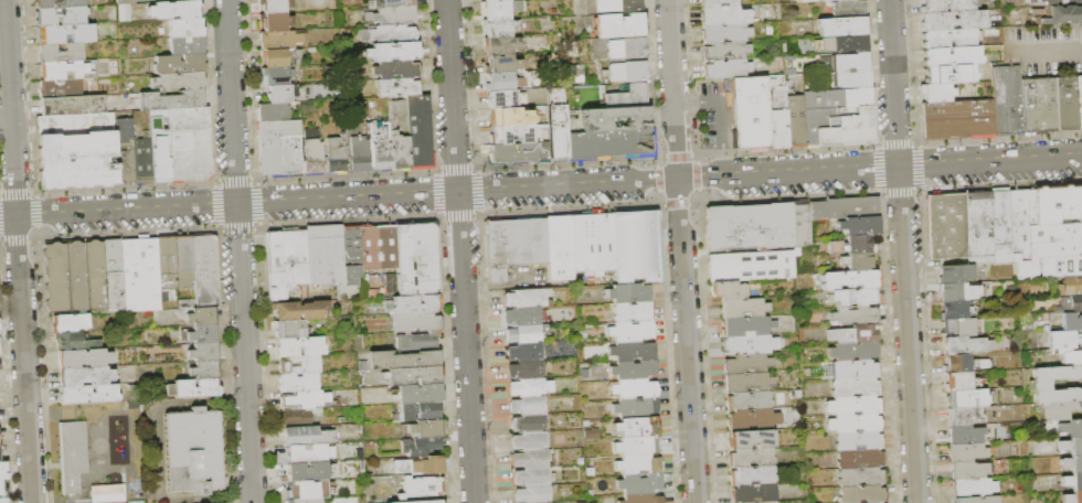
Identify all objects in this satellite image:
building: (490, 0)
building: (808, 0)
building: (389, 2)
building: (717, 2)
building: (1060, 2)
building: (57, 3)
building: (617, 4)
building: (273, 6)
building: (944, 6)
building: (499, 8)
building: (847, 8)
building: (123, 9)
building: (174, 9)
building: (393, 14)
building: (722, 14)
building: (1059, 14)
building: (60, 17)
building: (952, 19)
building: (274, 21)
building: (618, 24)
building: (184, 26)
building: (497, 26)
building: (841, 26)
building: (724, 32)
building: (65, 33)
building: (391, 33)
building: (947, 38)
building: (278, 39)
building: (844, 43)
building: (185, 44)
building: (499, 44)
building: (625, 47)
parking lot: (1046, 49)
building: (392, 51)
building: (725, 51)
building: (59, 52)
road: (1047, 52)
building: (951, 55)
building: (279, 57)
building: (844, 62)
building: (178, 64)
building: (499, 64)
building: (395, 68)
building: (726, 68)
building: (59, 69)
building: (626, 71)
building: (948, 73)
building: (276, 75)
building: (846, 77)
building: (177, 81)
building: (498, 81)
building: (396, 87)
building: (60, 88)
building: (935, 92)
building: (279, 93)
building: (626, 96)
building: (513, 97)
building: (1006, 99)
building: (170, 100)
building: (1078, 100)
road: (706, 101)
building: (1063, 103)
building: (72, 104)
road: (686, 104)
building: (1037, 104)
building: (955, 108)
building: (272, 111)
building: (776, 111)
building: (750, 113)
parking lot: (713, 114)
building: (516, 115)
building: (838, 117)
building: (188, 118)
building: (614, 118)
building: (794, 120)
building: (554, 122)
road: (719, 122)
road: (6, 125)
building: (957, 127)
building: (123, 129)
building: (417, 132)
building: (515, 132)
building: (397, 136)
building: (609, 143)
building: (279, 148)
building: (75, 150)
building: (381, 150)
building: (311, 152)
building: (516, 152)
building: (357, 153)
building: (189, 154)
building: (335, 154)
building: (141, 160)
building: (159, 161)
road: (721, 163)
building: (126, 165)
road: (541, 188)
building: (1056, 202)
building: (844, 207)
building: (800, 224)
building: (944, 224)
building: (1016, 224)
building: (858, 225)
building: (998, 225)
building: (747, 226)
building: (977, 226)
building: (1053, 238)
building: (592, 242)
building: (350, 243)
building: (850, 244)
building: (513, 245)
building: (638, 245)
building: (376, 247)
building: (559, 248)
road: (238, 250)
road: (459, 250)
road: (681, 250)
road: (902, 250)
road: (17, 251)
building: (325, 256)
building: (416, 257)
building: (166, 261)
building: (183, 261)
building: (285, 261)
building: (857, 261)
building: (1060, 265)
building: (752, 266)
building: (1026, 268)
building: (203, 272)
building: (953, 272)
building: (113, 274)
building: (139, 275)
building: (350, 275)
building: (74, 277)
road: (517, 277)
building: (847, 280)
building: (390, 283)
building: (1069, 285)
building: (368, 289)
road: (490, 289)
building: (728, 290)
building: (954, 290)
building: (628, 292)
building: (851, 297)
building: (526, 298)
building: (1068, 302)
building: (414, 304)
building: (743, 308)
building: (953, 309)
building: (299, 310)
building: (632, 311)
building: (200, 315)
building: (522, 315)
building: (852, 315)
building: (1071, 320)
building: (415, 322)
building: (68, 323)
building: (745, 325)
building: (959, 325)
building: (288, 330)
building: (630, 330)
building: (201, 333)
building: (523, 333)
building: (852, 333)
building: (1064, 338)
building: (68, 342)
building: (416, 342)
building: (750, 344)
building: (963, 344)
building: (299, 346)
building: (632, 351)
building: (851, 351)
building: (202, 352)
building: (524, 352)
building: (1071, 356)
building: (83, 358)
building: (402, 360)
building: (962, 362)
building: (746, 363)
building: (298, 365)
building: (633, 368)
building: (203, 370)
building: (524, 370)
building: (853, 370)
building: (412, 375)
building: (84, 376)
building: (957, 381)
building: (746, 382)
building: (297, 383)
building: (1040, 384)
building: (529, 387)
building: (633, 387)
building: (853, 387)
building: (195, 388)
building: (416, 394)
building: (88, 395)
building: (966, 397)
building: (305, 399)
building: (747, 400)
building: (527, 405)
building: (852, 405)
building: (634, 407)
building: (1060, 409)
building: (418, 410)
building: (961, 415)
building: (298, 417)
building: (752, 420)
building: (528, 422)
building: (853, 424)
building: (636, 427)
building: (1071, 427)
building: (425, 429)
building: (962, 434)
building: (304, 436)
building: (749, 439)
building: (528, 440)
building: (857, 441)
building: (1071, 445)
building: (418, 446)
building: (636, 446)
building: (964, 450)
building: (193, 451)
road: (155, 452)
building: (308, 453)
building: (72, 456)
building: (750, 458)
building: (529, 459)
building: (859, 459)
building: (1071, 462)
building: (637, 464)
building: (420, 465)
building: (966, 469)
building: (2, 470)
building: (299, 471)
building: (751, 475)
building: (530, 477)
building: (859, 477)
building: (1071, 480)
building: (638, 483)
building: (972, 486)
building: (420, 488)
building: (306, 489)
building: (2, 490)
building: (107, 493)
building: (752, 493)
building: (860, 493)
building: (532, 494)
building: (1071, 496)
building: (640, 499)
building: (974, 499)
building: (2, 500)
building: (304, 501)
building: (137, 502)
building: (418, 502)
building: (762, 502)
building: (872, 502)

